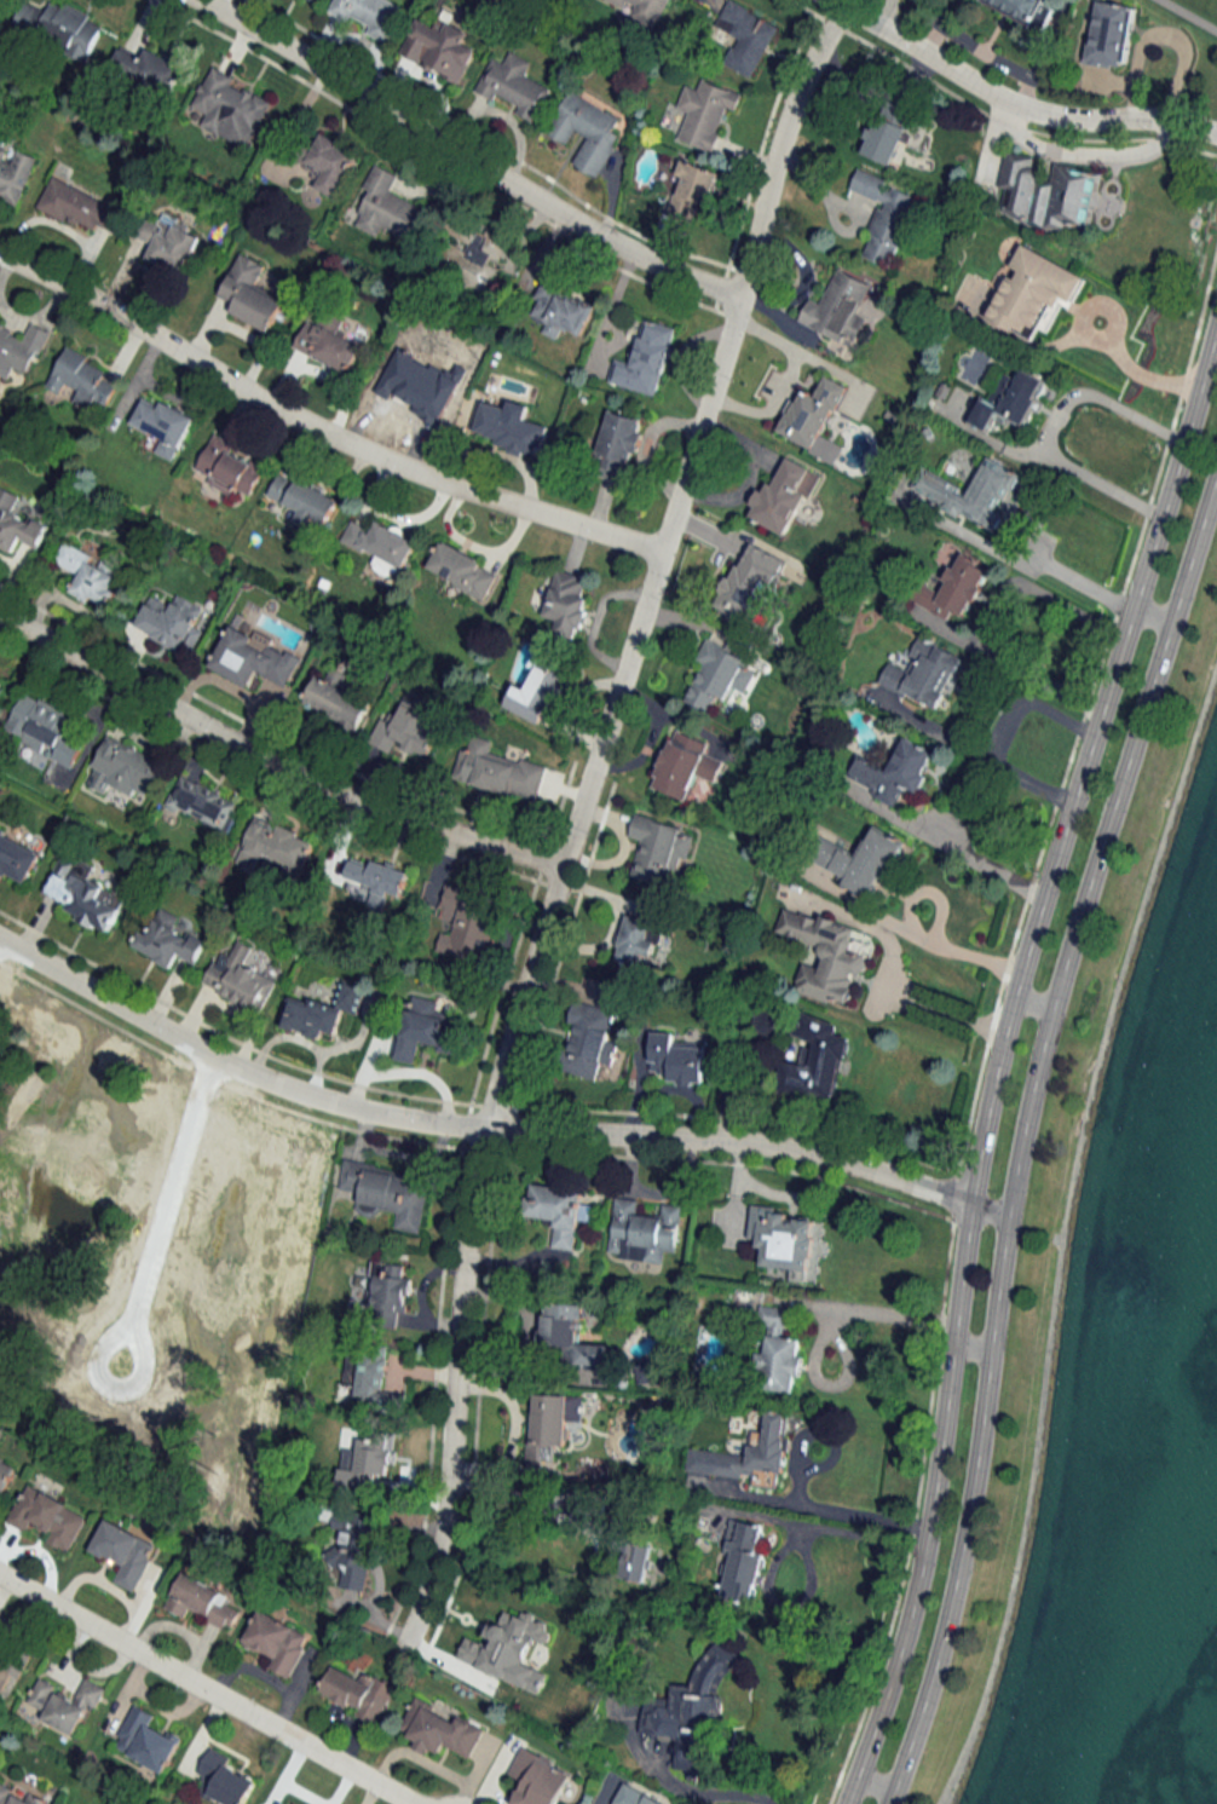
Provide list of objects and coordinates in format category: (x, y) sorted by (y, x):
building: (317, 0)
building: (1029, 8)
building: (644, 10)
building: (370, 16)
road: (1186, 17)
building: (60, 27)
building: (1111, 34)
building: (746, 36)
building: (440, 48)
building: (150, 69)
building: (514, 86)
road: (1011, 103)
building: (229, 108)
building: (705, 113)
building: (587, 131)
building: (887, 133)
road: (462, 156)
building: (330, 163)
building: (15, 173)
building: (692, 189)
building: (1045, 192)
building: (77, 206)
building: (390, 208)
building: (886, 215)
building: (169, 243)
building: (475, 253)
building: (1032, 293)
building: (250, 294)
building: (560, 307)
building: (838, 309)
building: (328, 341)
building: (21, 348)
building: (646, 359)
road: (1137, 368)
building: (83, 381)
road: (784, 382)
building: (416, 391)
building: (1011, 400)
building: (813, 413)
building: (163, 425)
road: (1055, 425)
building: (513, 428)
road: (317, 430)
building: (618, 443)
building: (230, 468)
building: (969, 492)
building: (783, 497)
building: (305, 501)
building: (17, 523)
building: (381, 546)
building: (461, 570)
building: (90, 575)
road: (1073, 580)
building: (745, 586)
building: (956, 588)
building: (566, 600)
road: (1150, 615)
road: (993, 622)
building: (172, 623)
building: (252, 658)
building: (923, 673)
building: (719, 674)
building: (537, 692)
building: (335, 701)
building: (46, 727)
building: (408, 727)
road: (1000, 737)
road: (271, 763)
building: (684, 765)
building: (125, 768)
building: (497, 771)
building: (895, 771)
building: (203, 803)
road: (577, 813)
building: (275, 847)
building: (659, 848)
road: (969, 857)
building: (17, 858)
building: (860, 860)
building: (376, 876)
building: (82, 894)
building: (466, 922)
road: (916, 933)
building: (638, 939)
building: (167, 941)
building: (825, 955)
road: (892, 970)
building: (238, 979)
road: (1032, 1003)
building: (322, 1011)
building: (768, 1021)
building: (427, 1028)
building: (588, 1041)
road: (999, 1053)
building: (677, 1059)
building: (815, 1059)
road: (488, 1130)
road: (1023, 1131)
building: (388, 1192)
road: (169, 1197)
building: (58, 1198)
building: (559, 1211)
building: (644, 1232)
building: (783, 1240)
building: (390, 1295)
road: (867, 1310)
building: (567, 1337)
road: (970, 1347)
building: (778, 1351)
building: (367, 1370)
road: (113, 1387)
building: (548, 1425)
building: (749, 1456)
building: (368, 1458)
building: (6, 1472)
road: (547, 1499)
road: (860, 1514)
building: (47, 1516)
road: (859, 1537)
building: (125, 1552)
building: (348, 1554)
building: (636, 1561)
building: (743, 1563)
building: (203, 1602)
building: (0, 1627)
building: (507, 1637)
building: (277, 1642)
building: (6, 1667)
road: (204, 1689)
building: (358, 1693)
building: (41, 1694)
building: (74, 1707)
building: (691, 1708)
building: (439, 1730)
building: (146, 1740)
building: (224, 1779)
building: (540, 1779)
road: (670, 1782)
road: (873, 1782)
building: (4, 1793)
building: (27, 1800)

